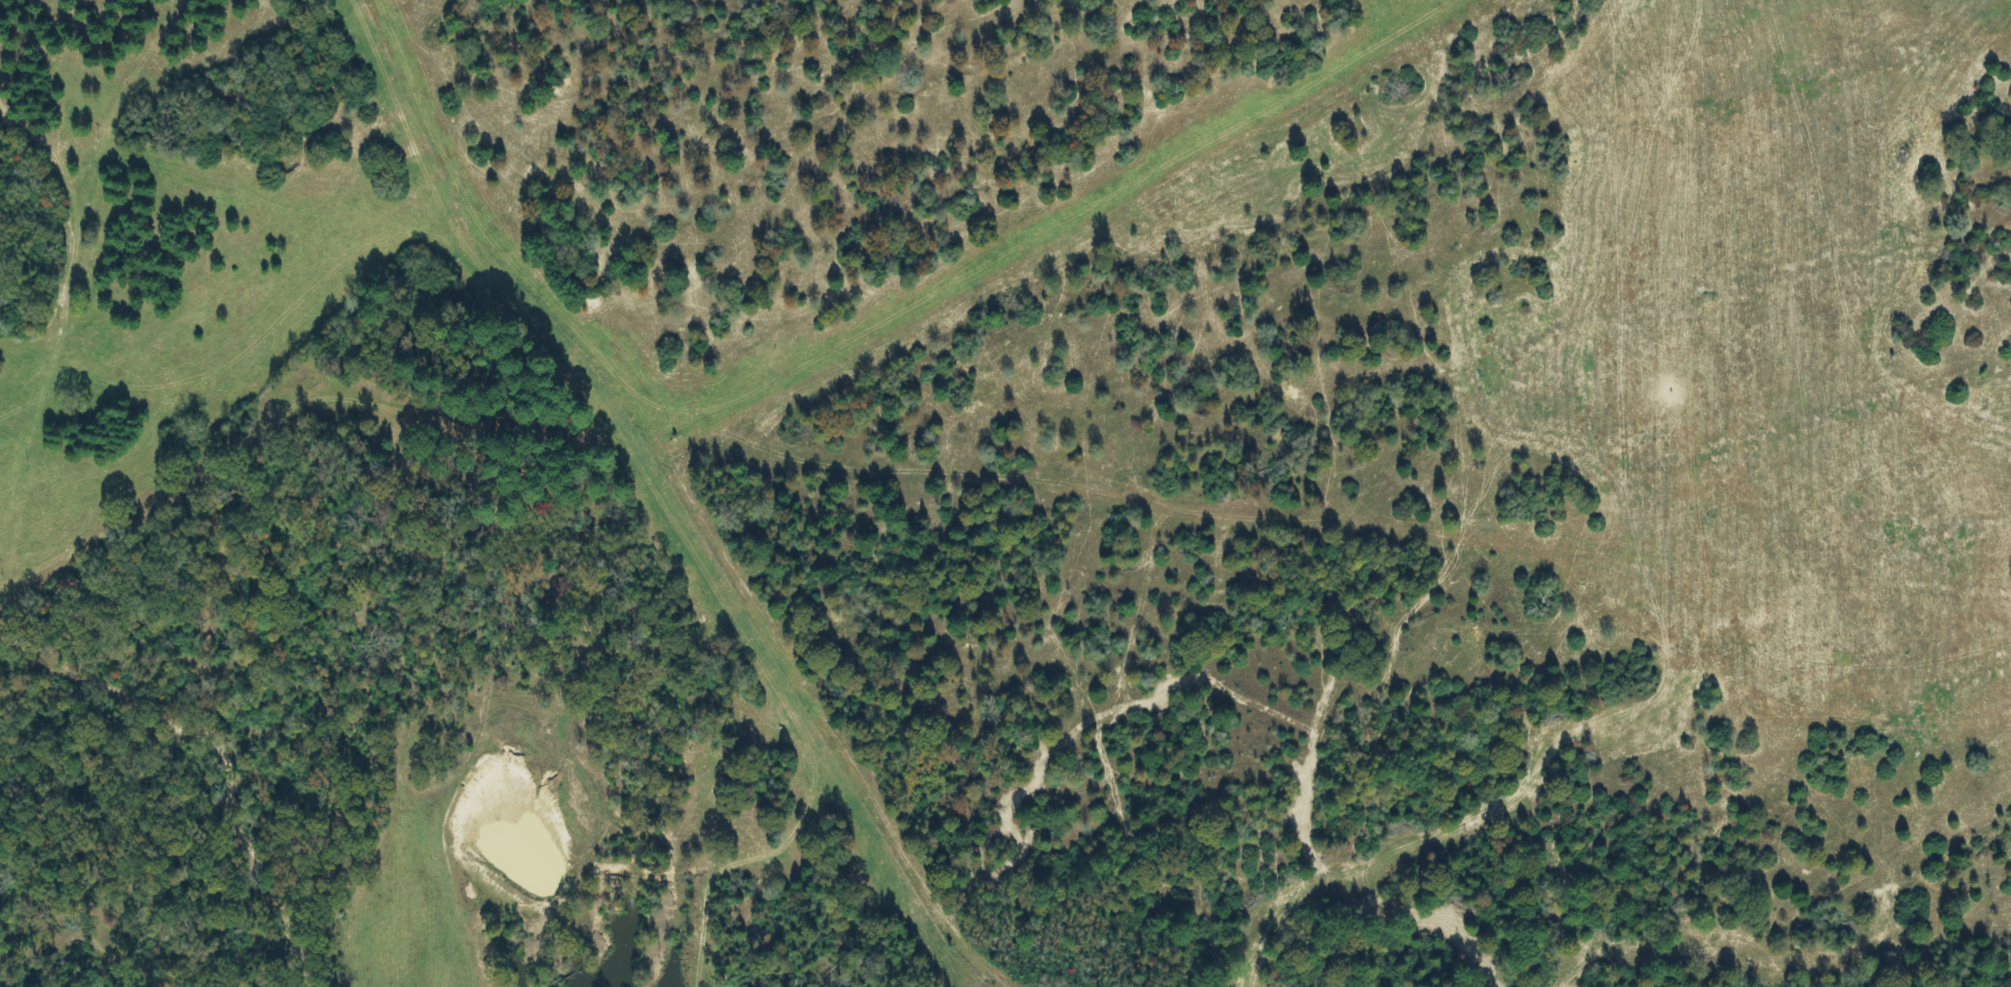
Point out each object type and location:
road: (1005, 791)

